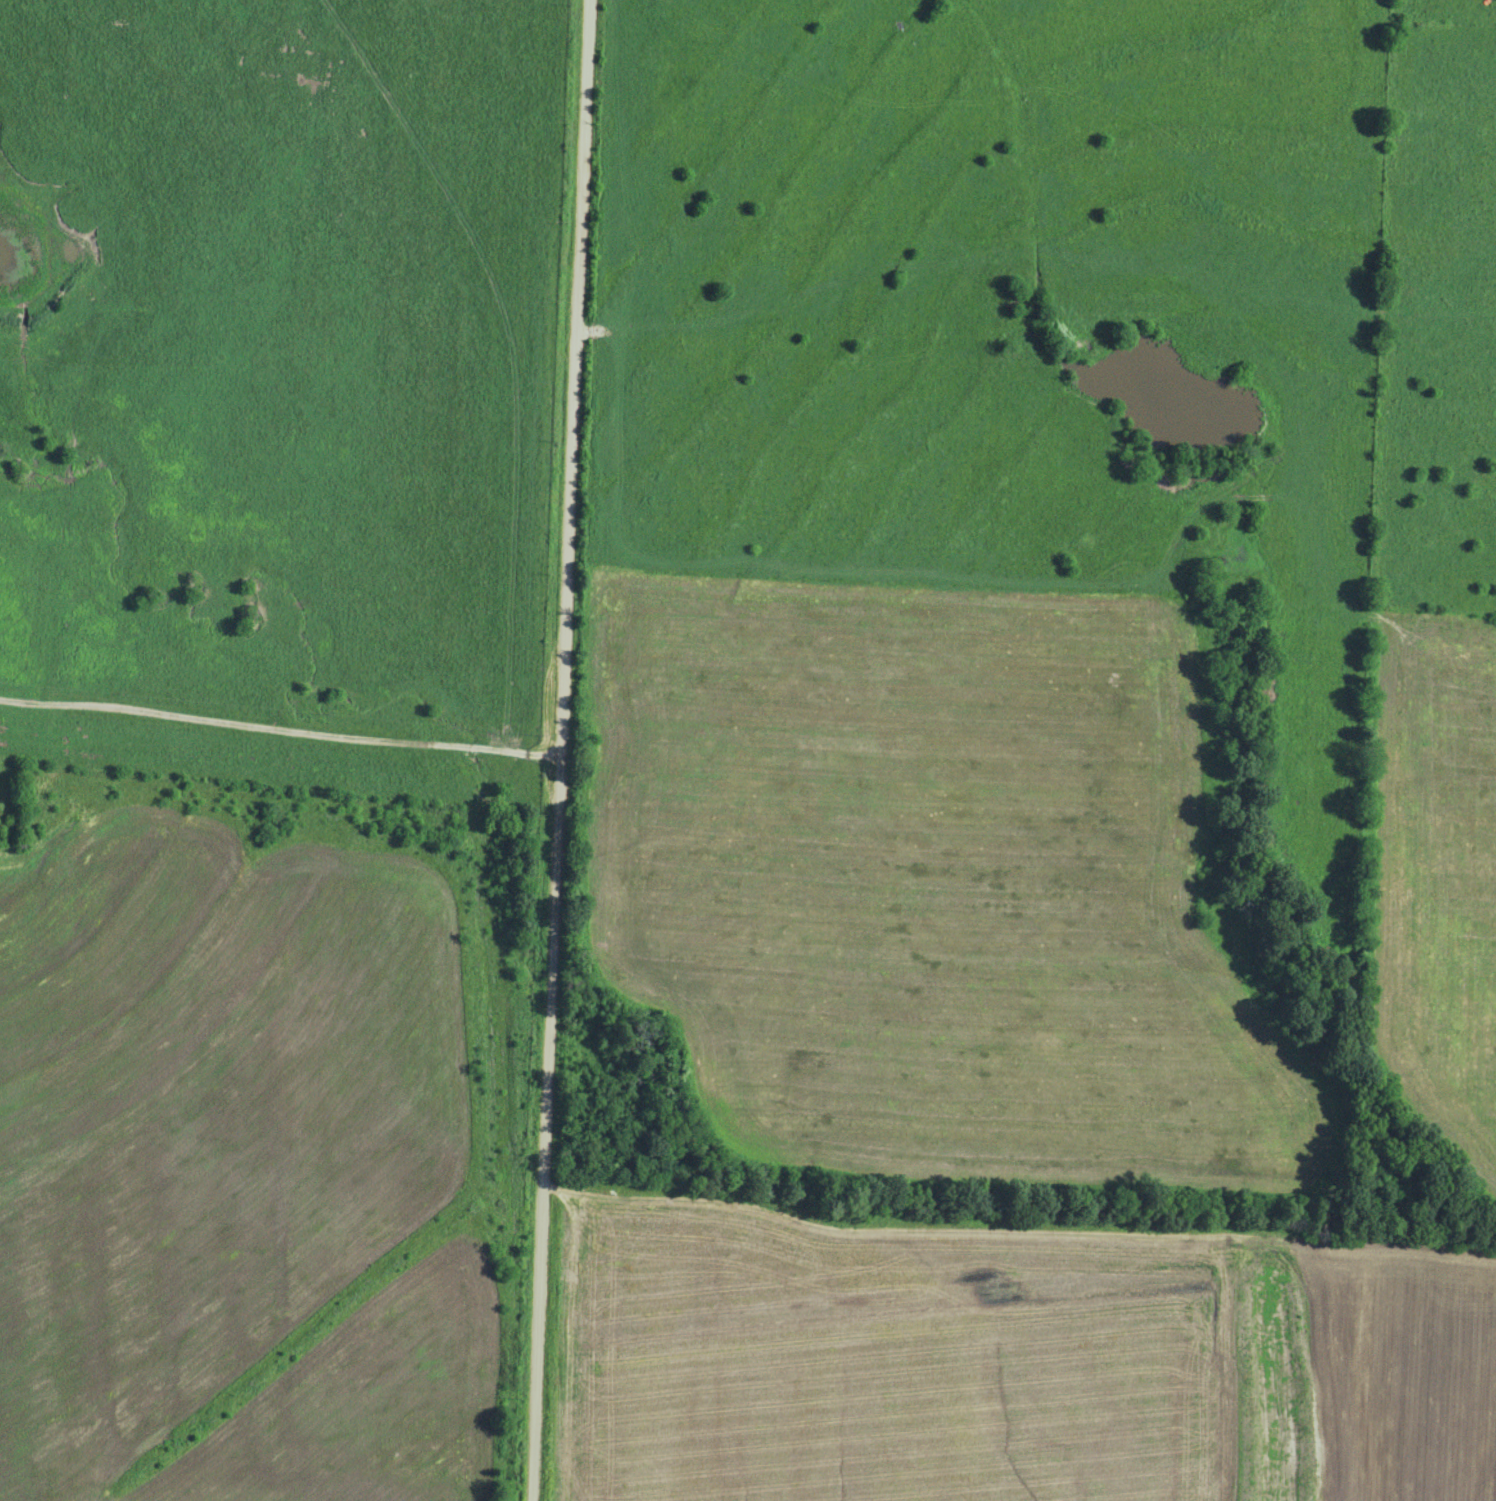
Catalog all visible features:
road: (281, 726)
road: (564, 750)

